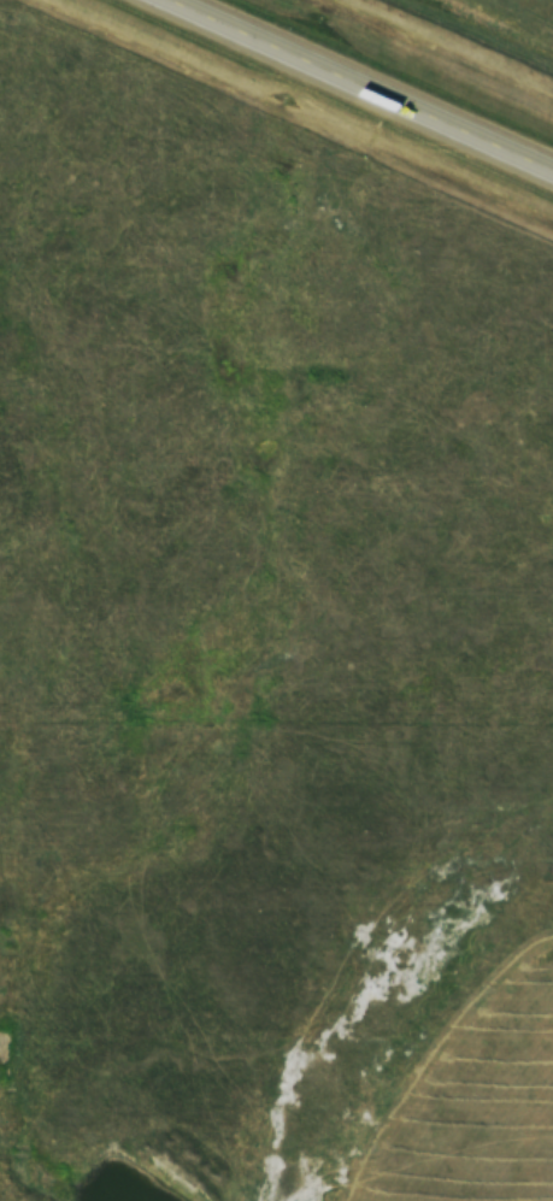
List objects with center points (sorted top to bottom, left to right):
road: (359, 87)

